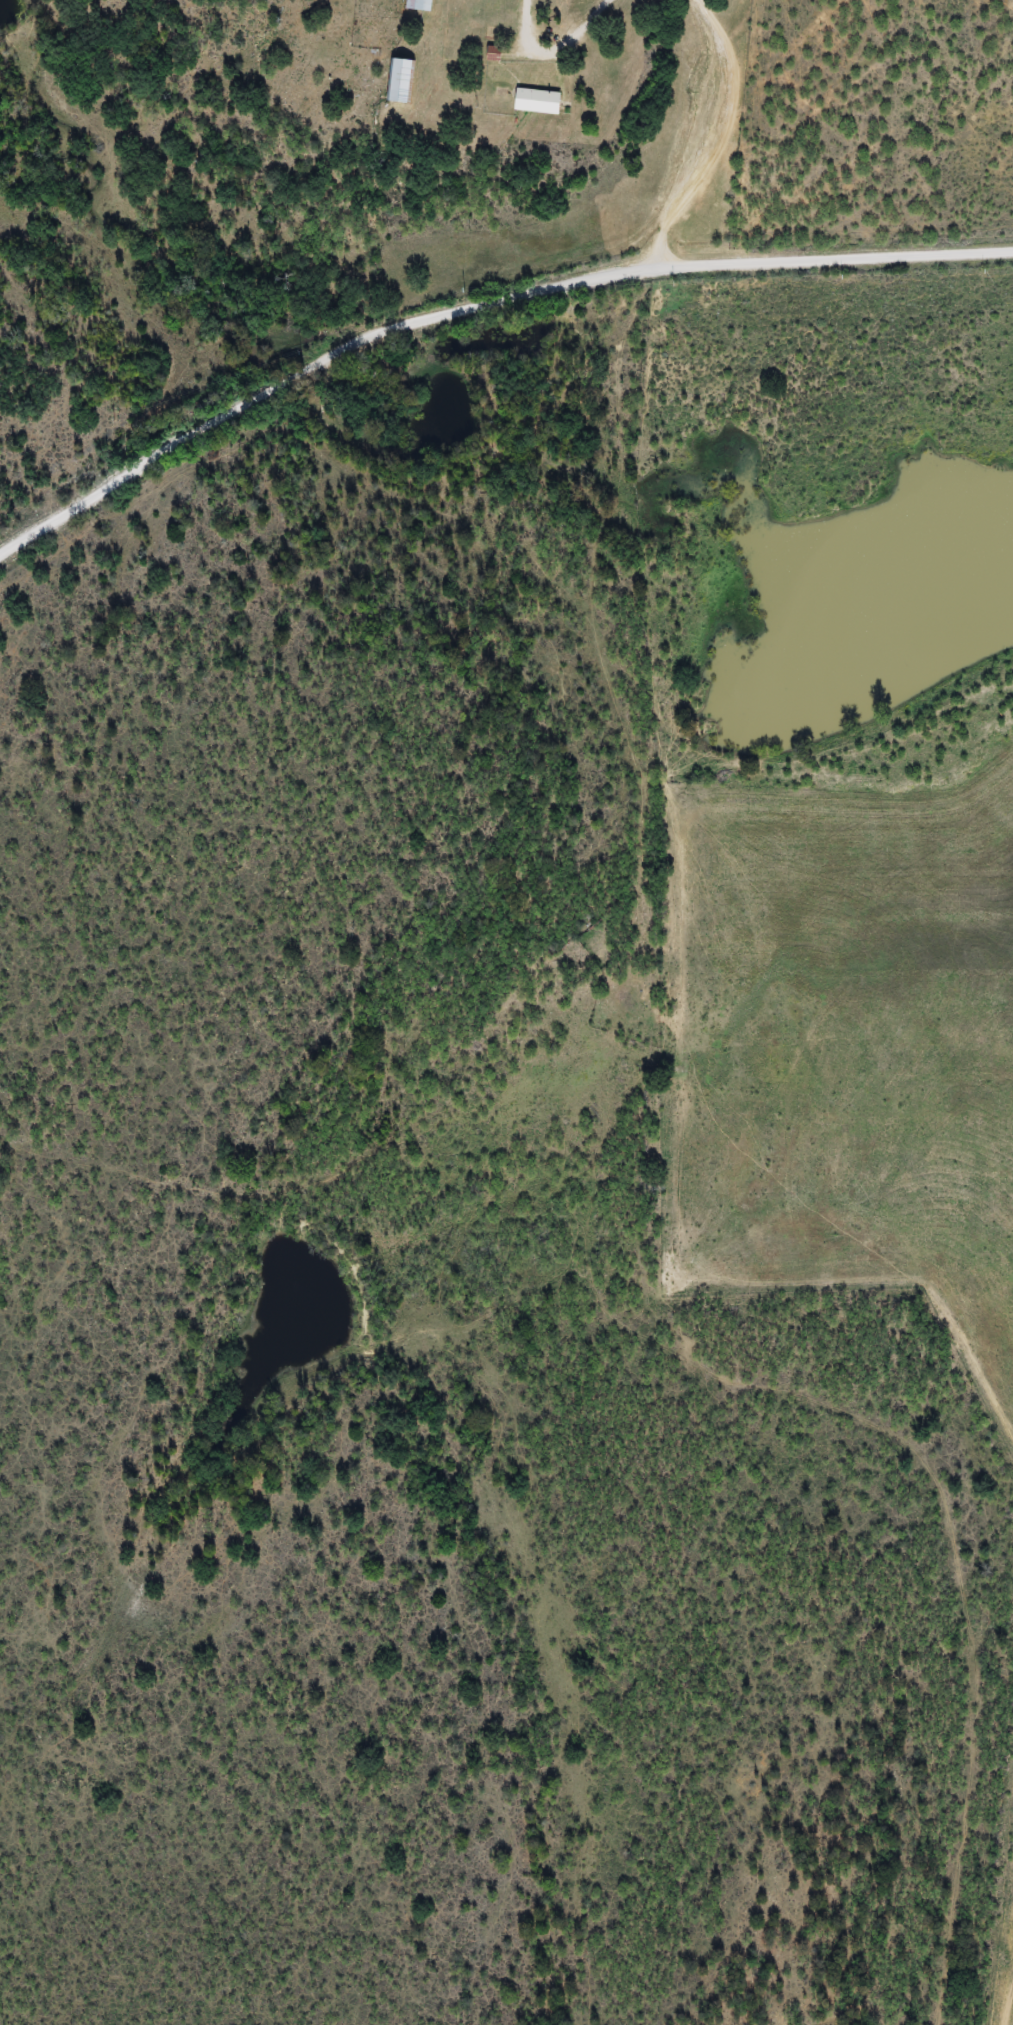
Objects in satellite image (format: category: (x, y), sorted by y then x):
building: (419, 4)
building: (493, 52)
building: (398, 78)
road: (716, 83)
building: (536, 101)
road: (479, 320)
road: (629, 441)
road: (631, 885)
road: (549, 1340)
road: (937, 1526)

